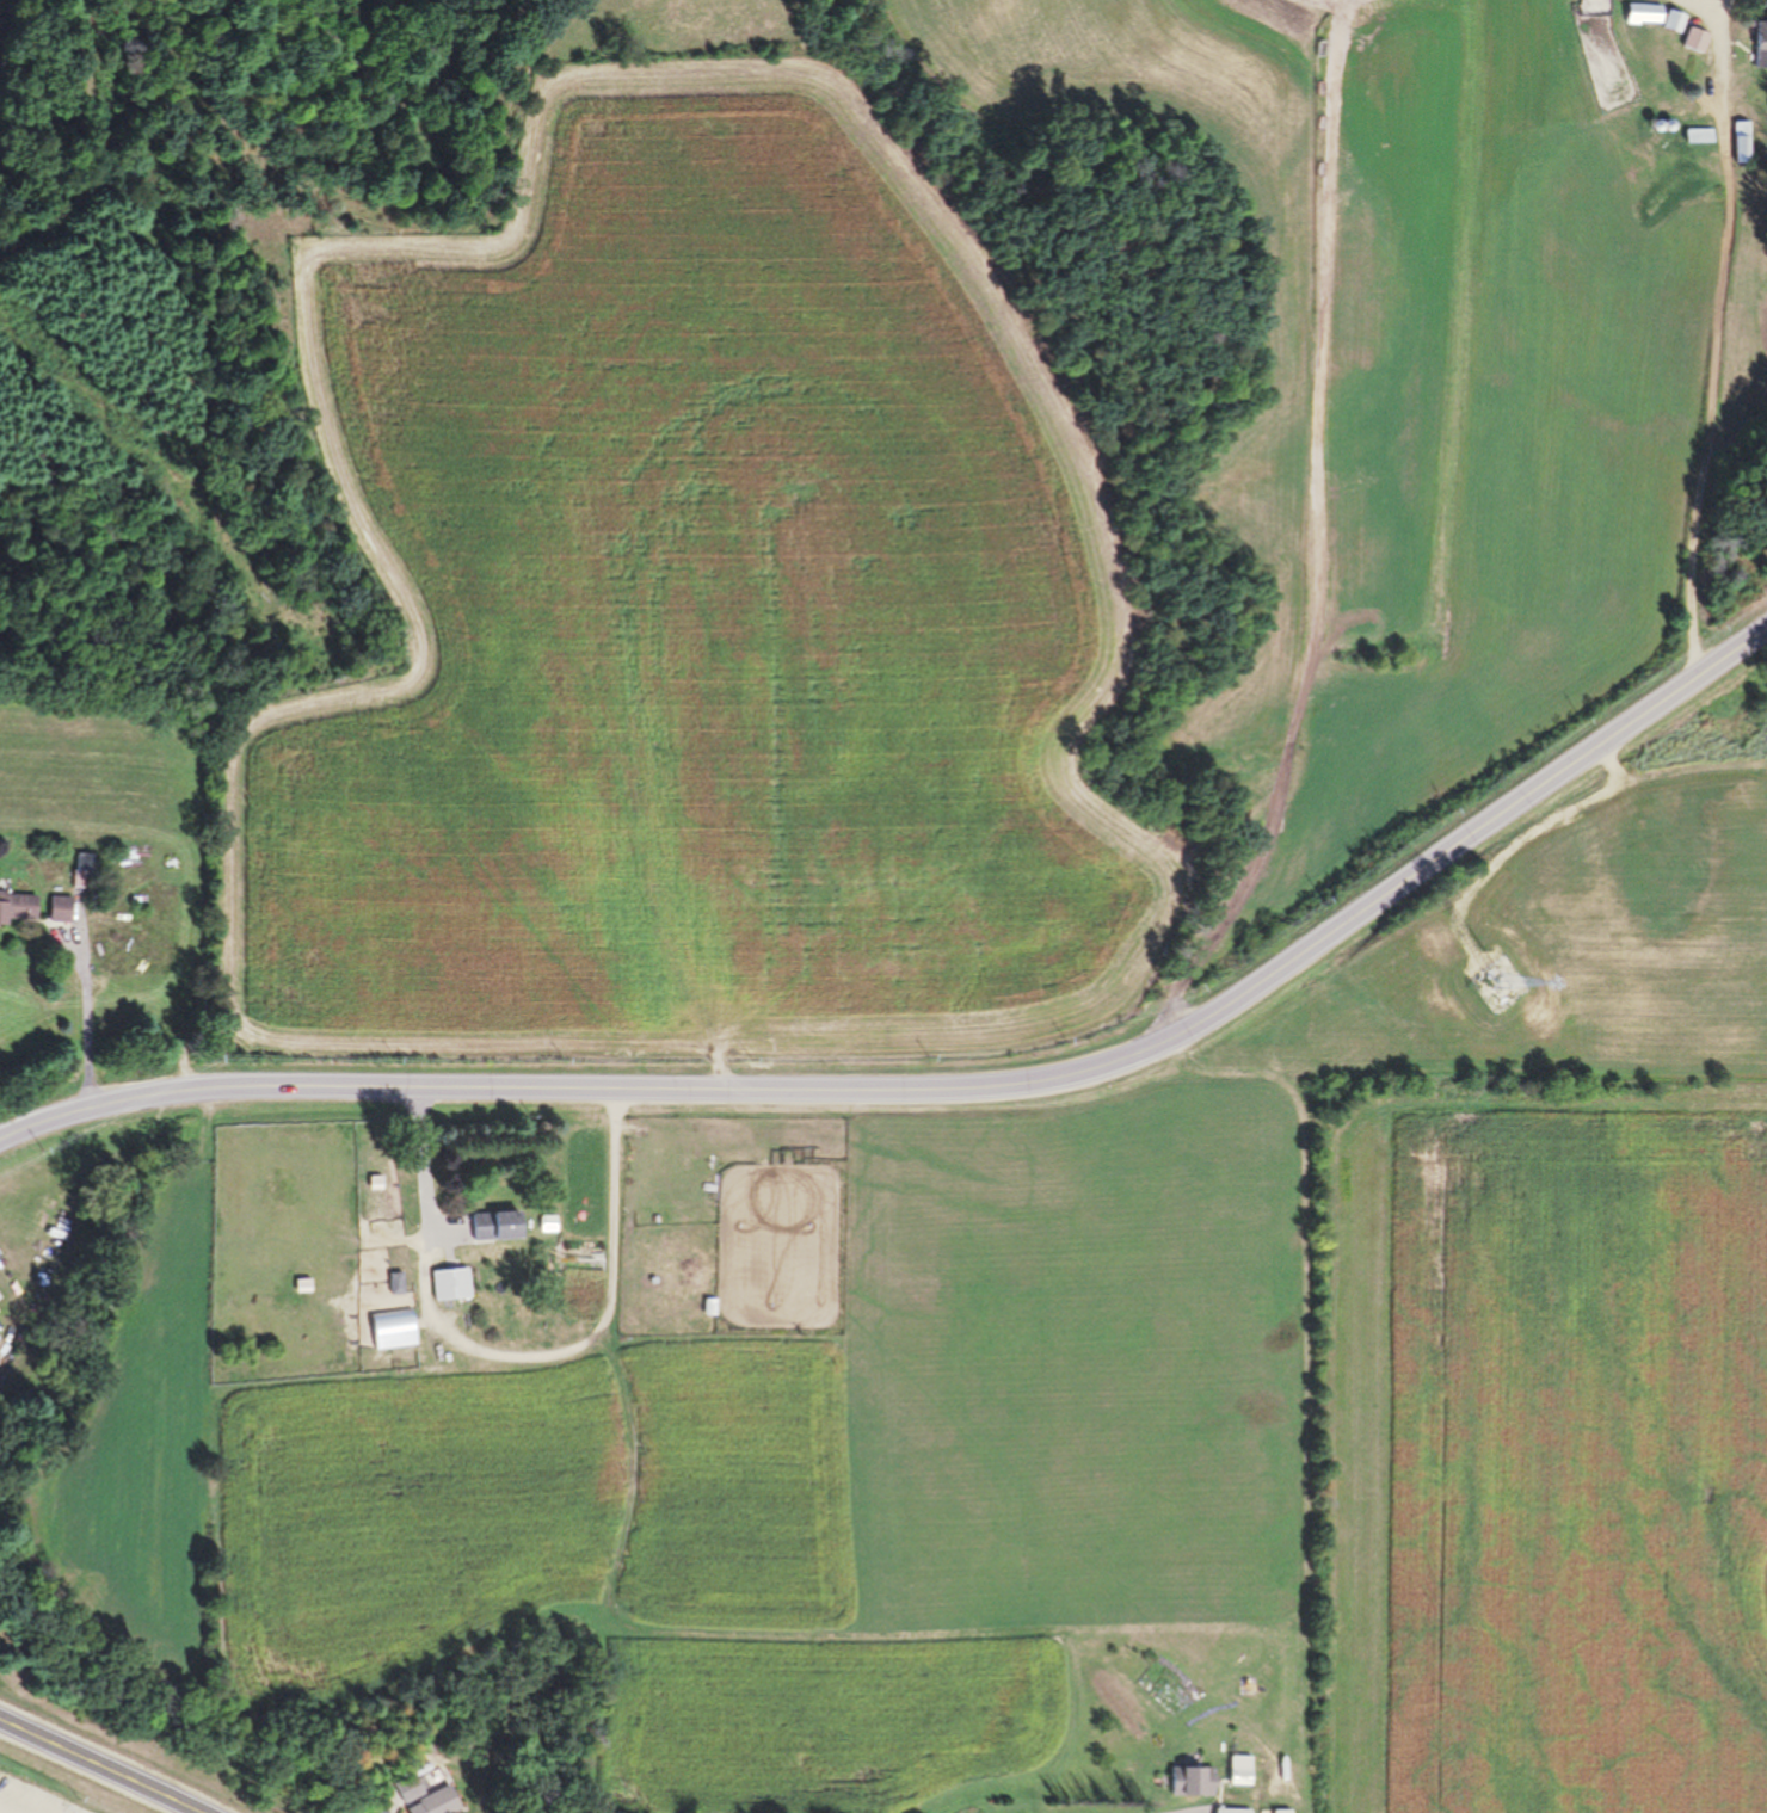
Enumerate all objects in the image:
building: (1643, 13)
building: (1673, 20)
building: (1695, 39)
building: (1760, 43)
building: (1698, 135)
building: (1741, 142)
building: (17, 908)
building: (59, 908)
road: (87, 1020)
road: (946, 1090)
building: (494, 1226)
building: (395, 1283)
building: (449, 1284)
building: (392, 1328)
building: (0, 1340)
road: (518, 1353)
building: (1172, 1698)
road: (101, 1764)
building: (1239, 1776)
building: (1181, 1780)
building: (1205, 1780)
building: (436, 1802)
building: (1231, 1811)

